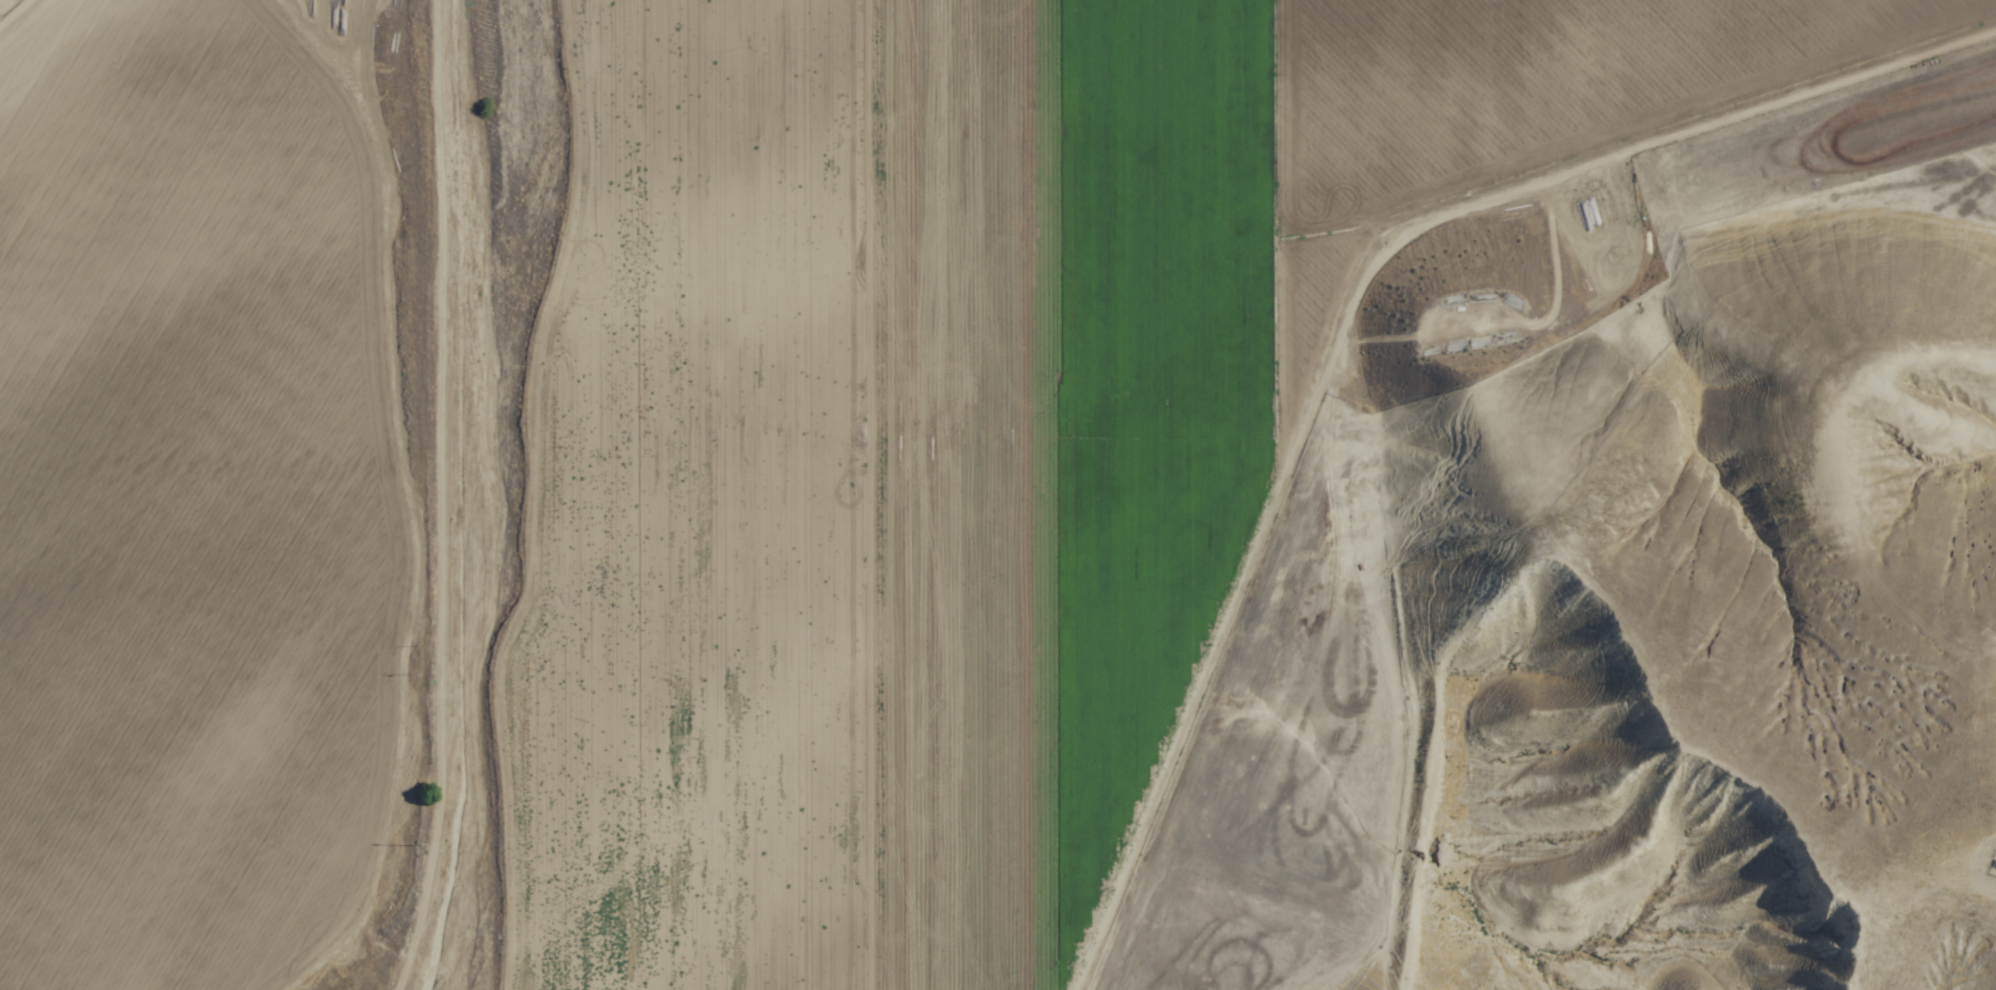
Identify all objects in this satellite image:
railway: (1831, 71)
railway: (1813, 79)
road: (1345, 313)
road: (353, 498)

